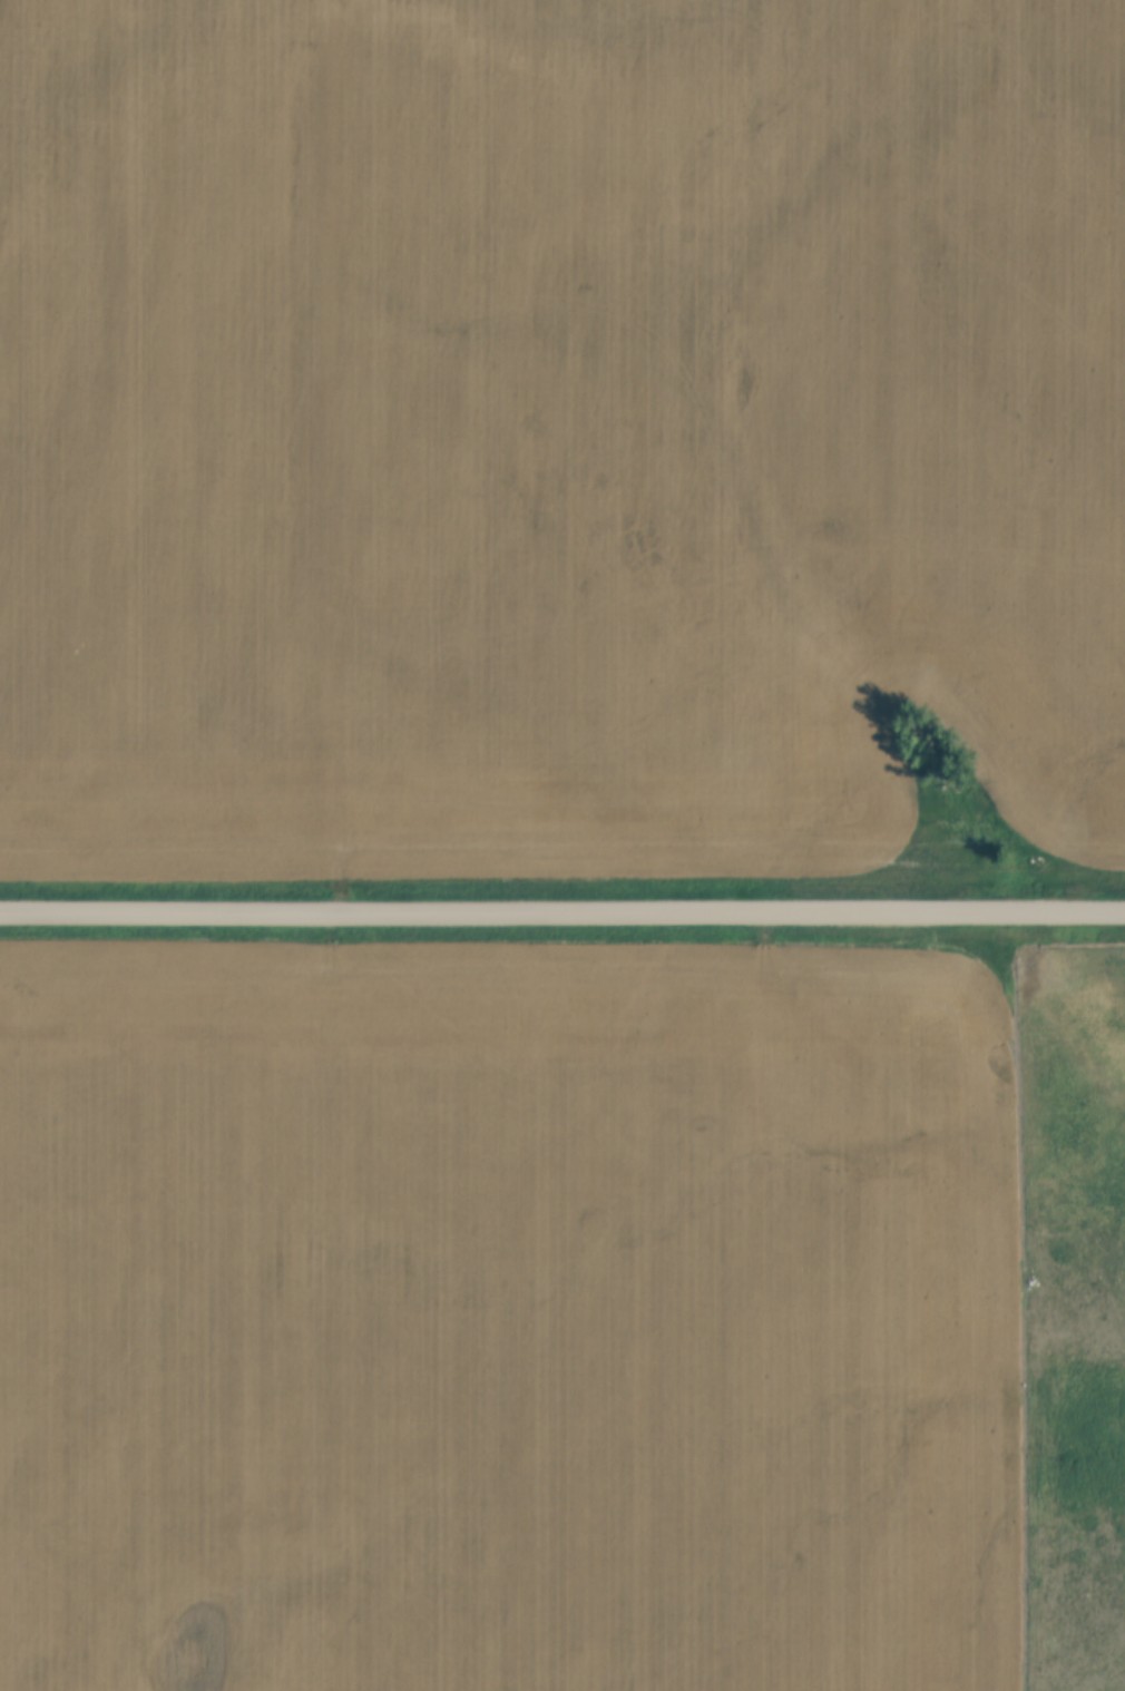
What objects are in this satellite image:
road: (561, 909)

